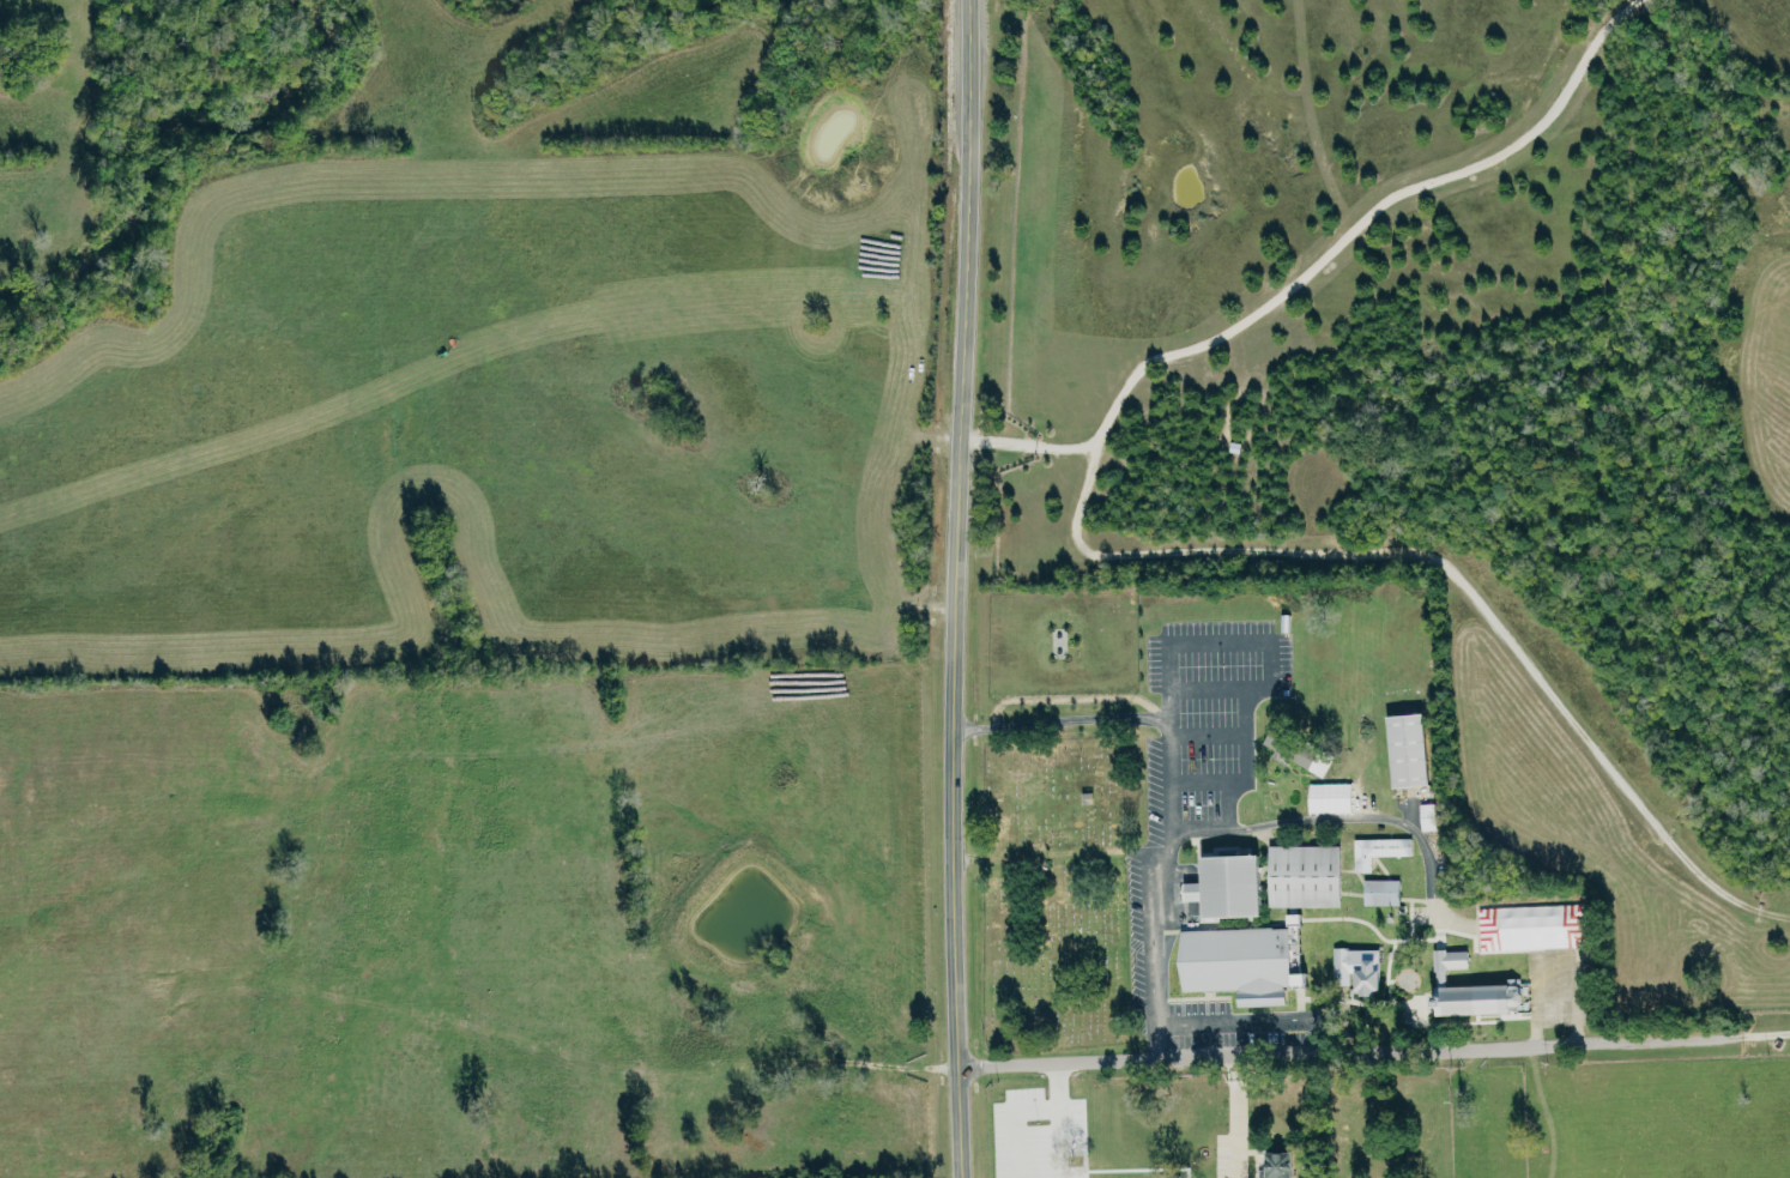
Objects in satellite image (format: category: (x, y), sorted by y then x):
road: (955, 588)
building: (1416, 748)
building: (1301, 750)
building: (1433, 816)
road: (1330, 817)
building: (1383, 850)
road: (1160, 858)
building: (1310, 875)
building: (1235, 884)
building: (1386, 890)
park: (1051, 893)
road: (1552, 919)
building: (1258, 959)
building: (1362, 967)
building: (1477, 989)
road: (1162, 1041)
road: (1372, 1055)
road: (1230, 1117)
building: (1284, 1165)

